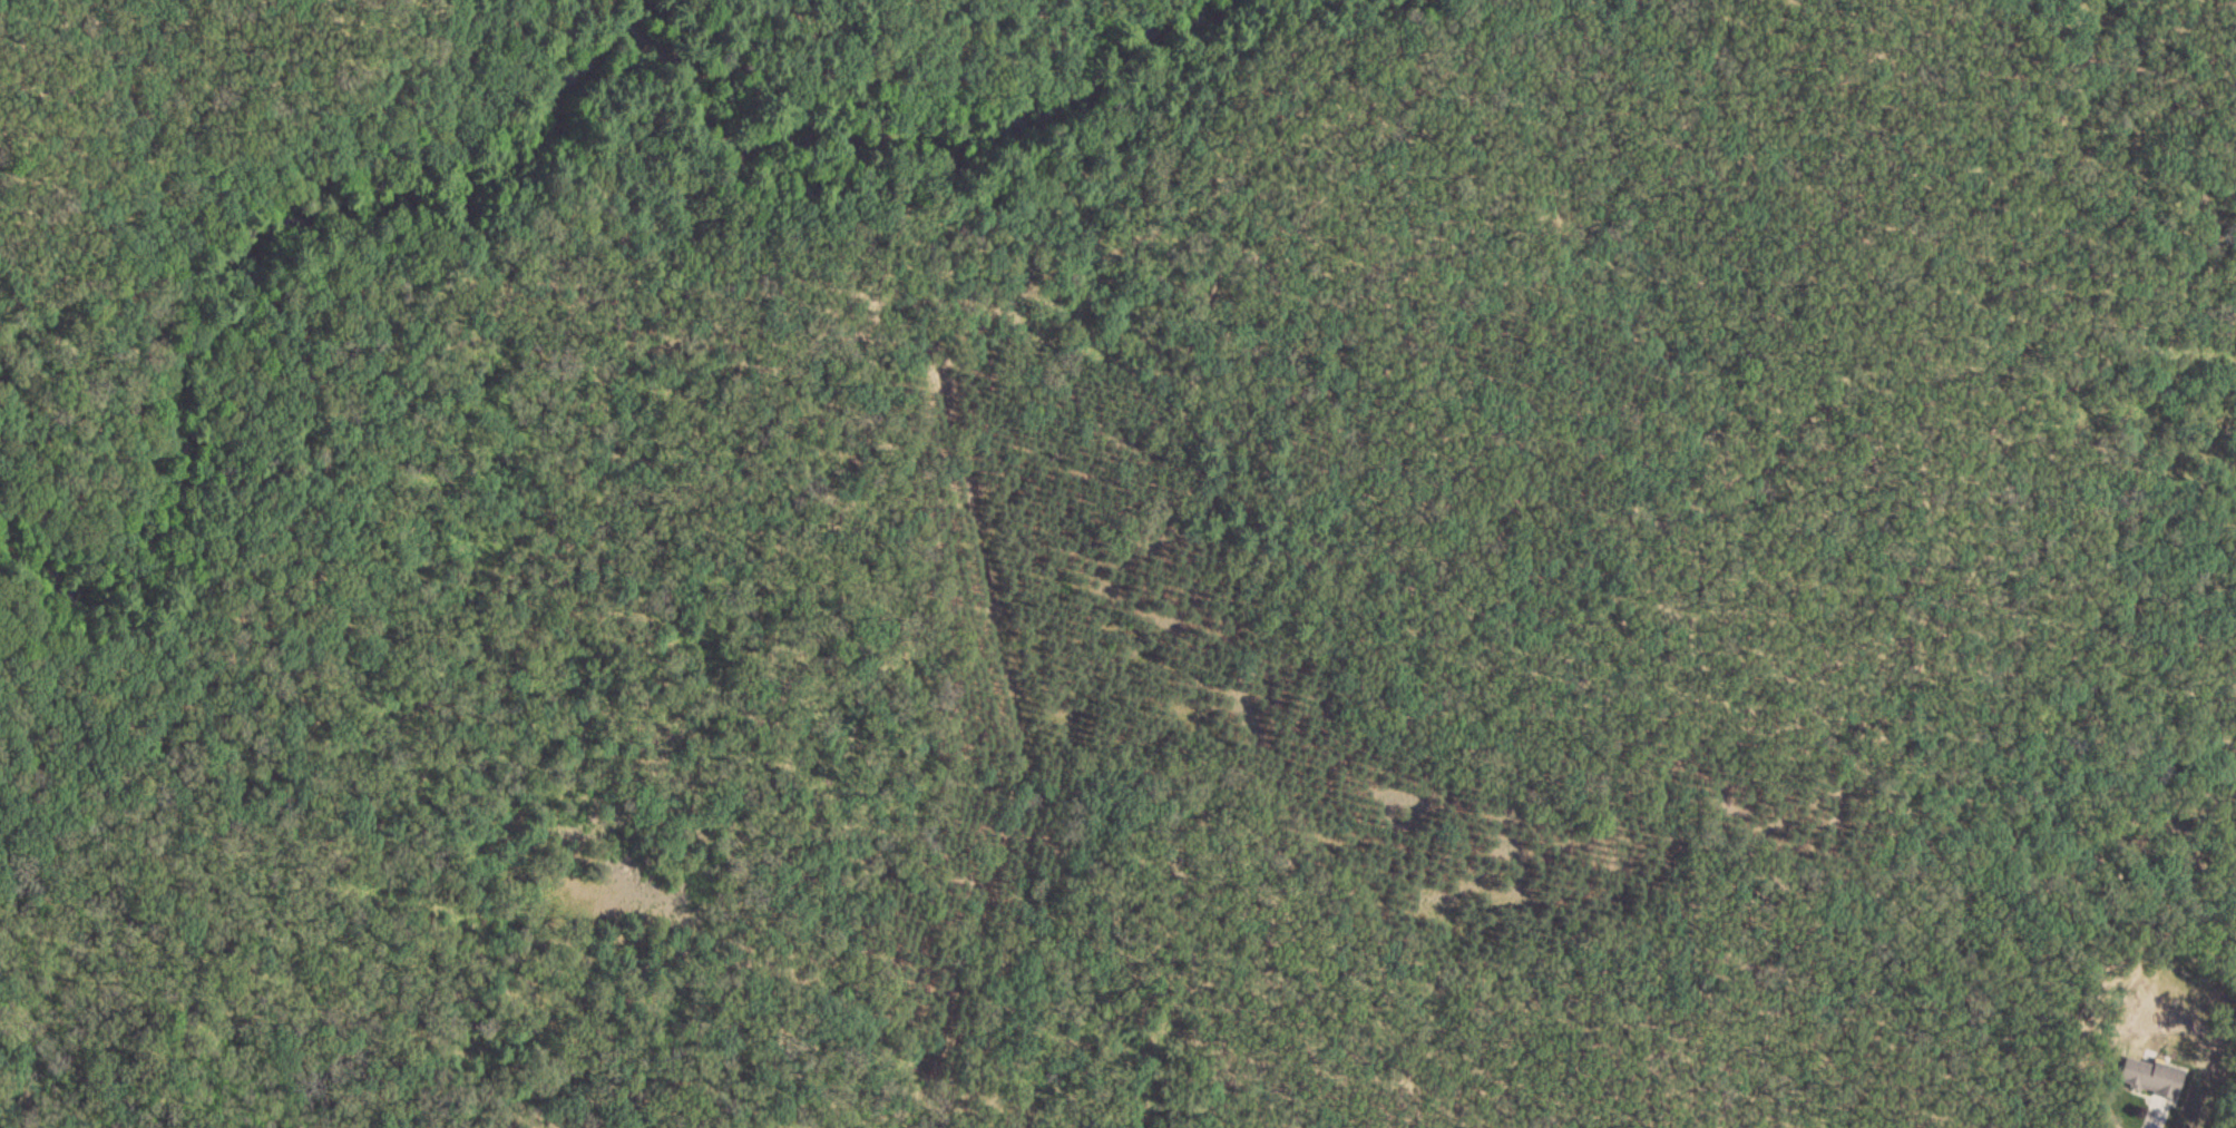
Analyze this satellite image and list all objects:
building: (2145, 1081)
road: (2154, 1116)

